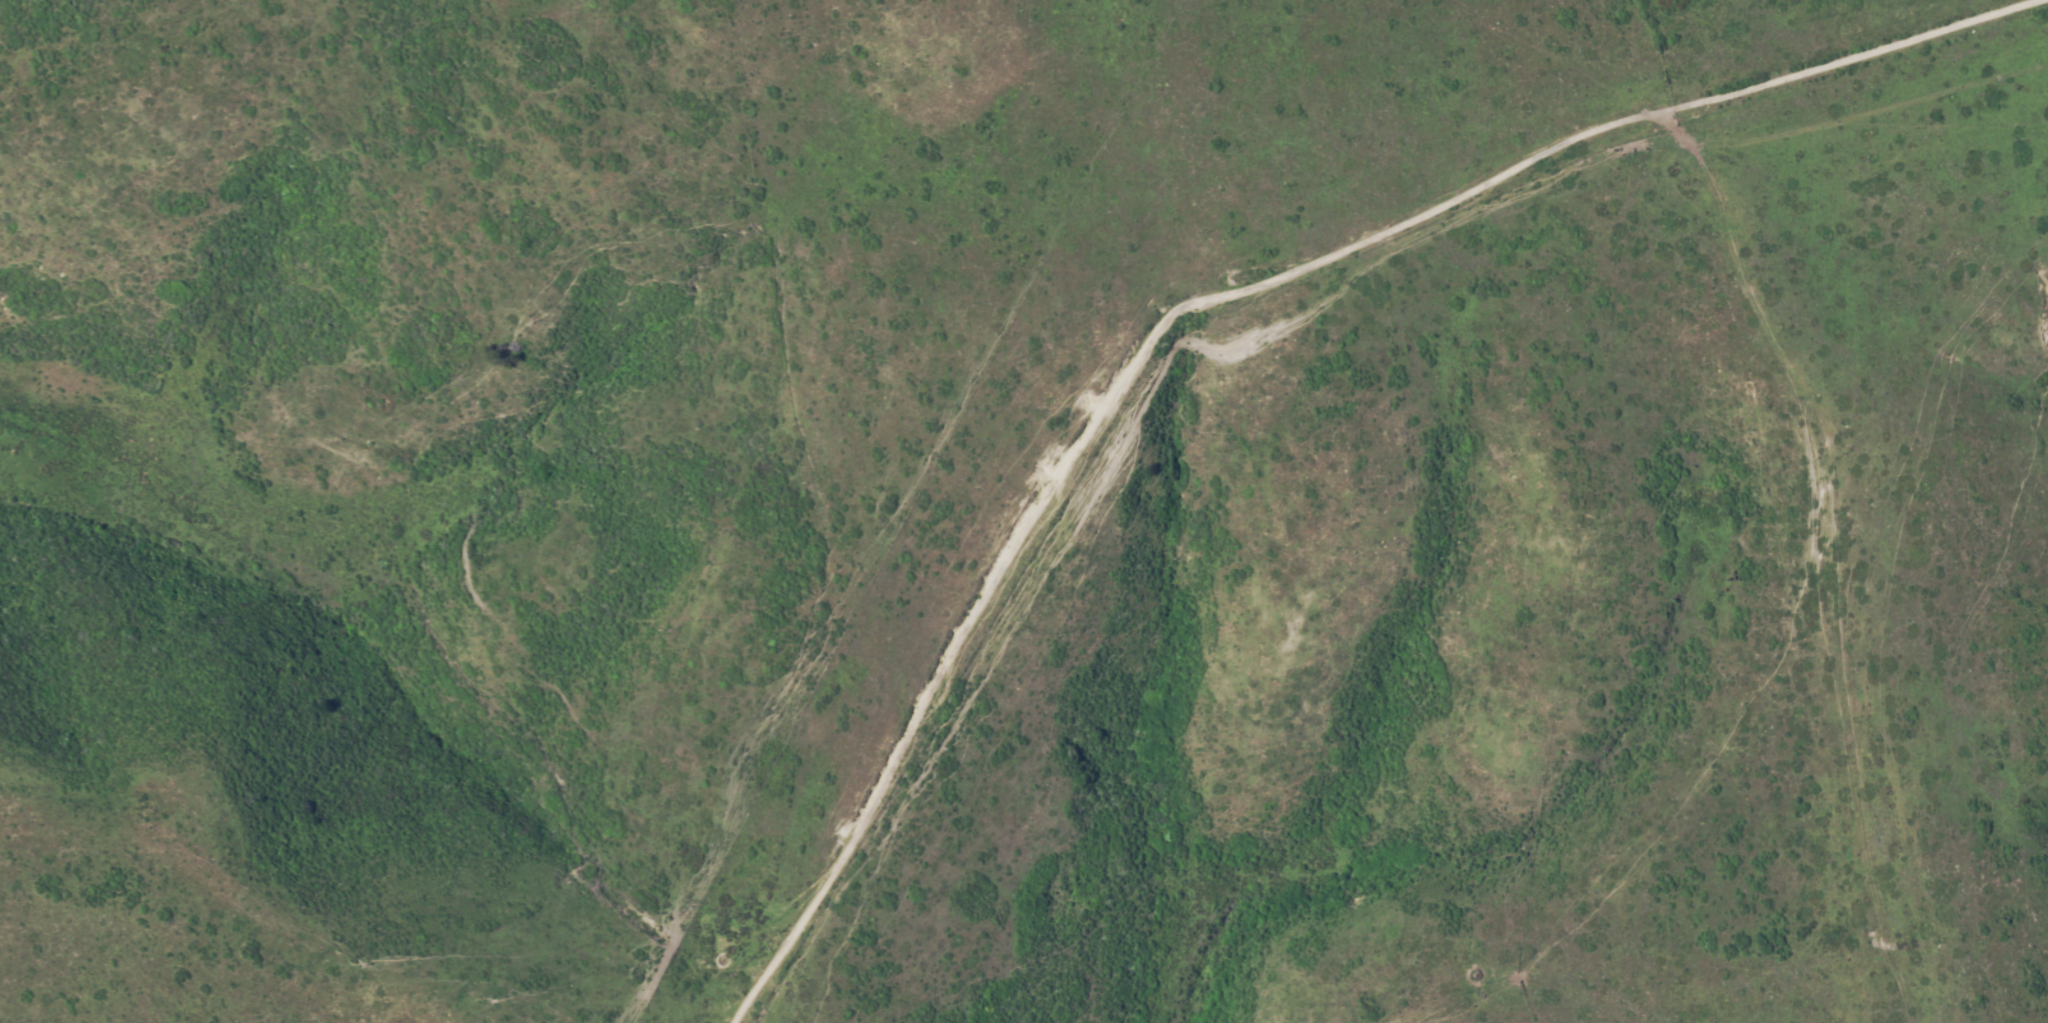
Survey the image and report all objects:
road: (1223, 300)

